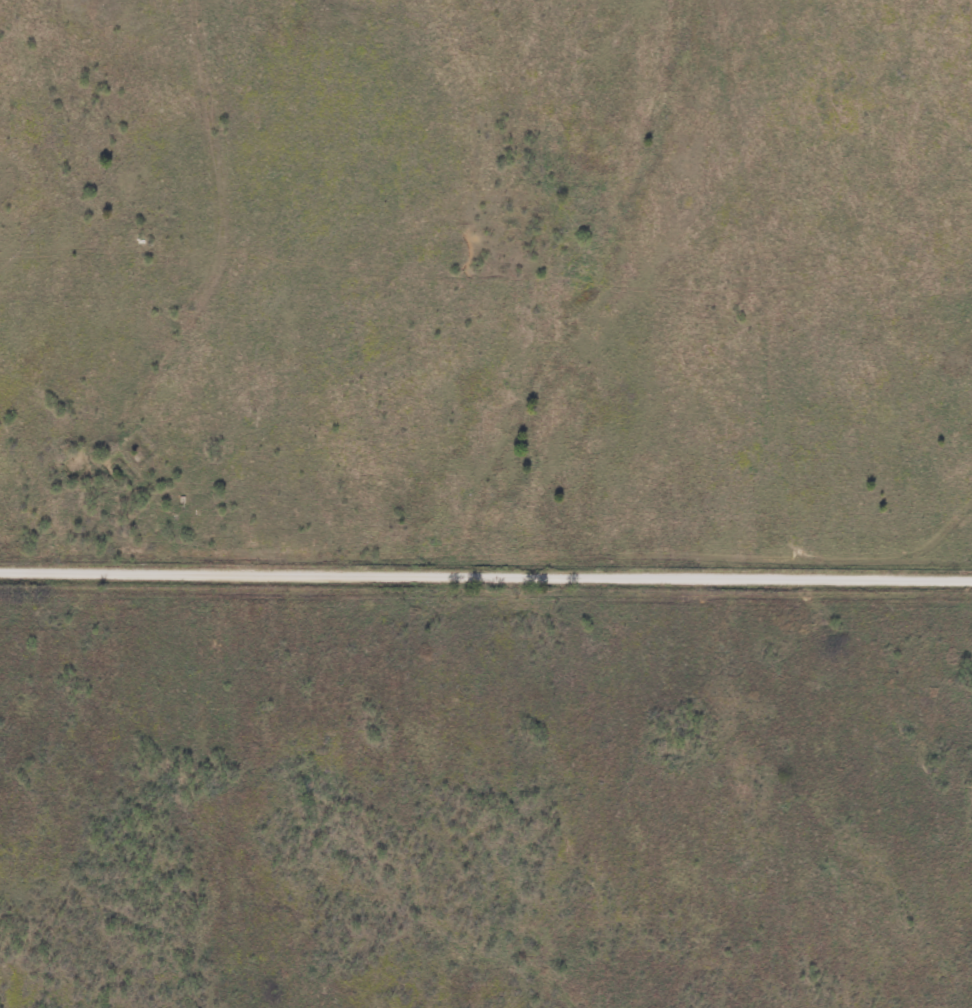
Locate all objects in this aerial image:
road: (485, 575)

